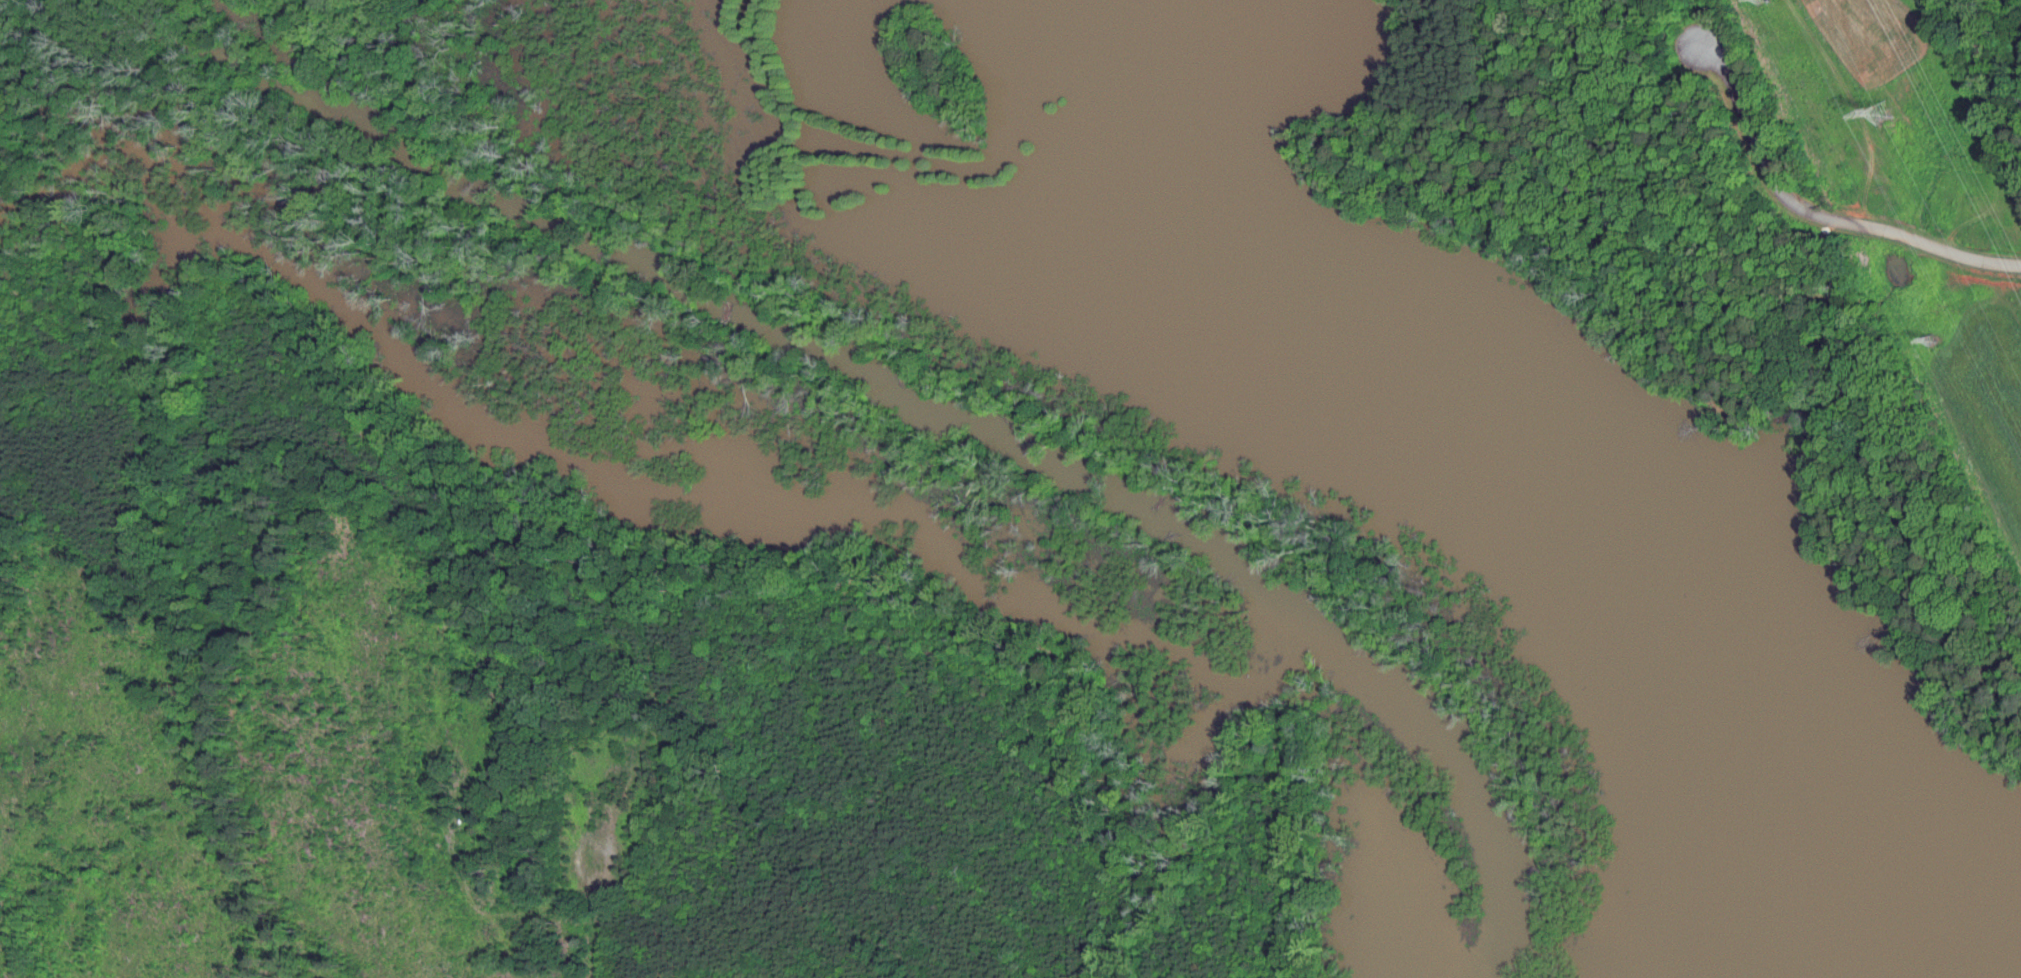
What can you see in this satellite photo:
power tower: (1883, 113)
road: (1816, 213)
power tower: (1931, 338)

